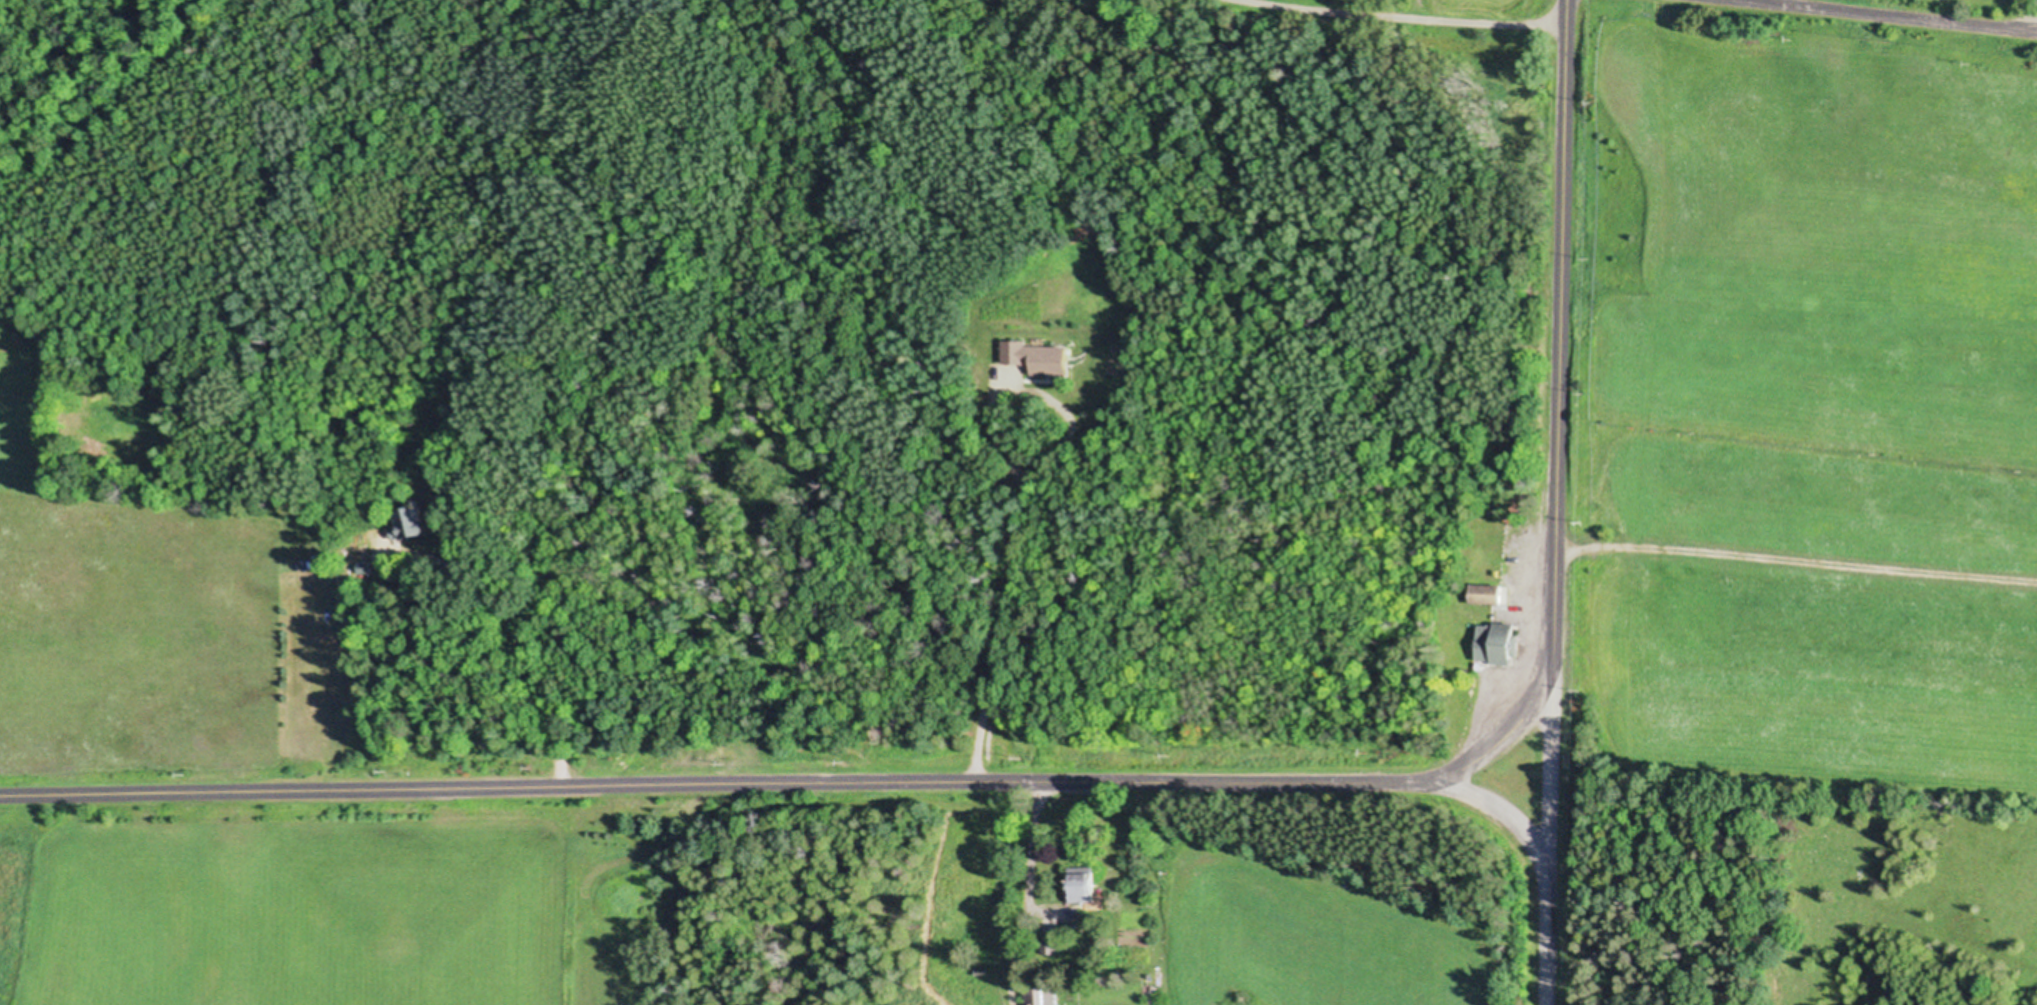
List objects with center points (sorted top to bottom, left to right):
road: (1862, 17)
road: (1381, 19)
road: (2030, 33)
road: (1558, 436)
road: (1795, 564)
road: (534, 658)
road: (1506, 728)
road: (858, 786)
road: (1026, 894)

